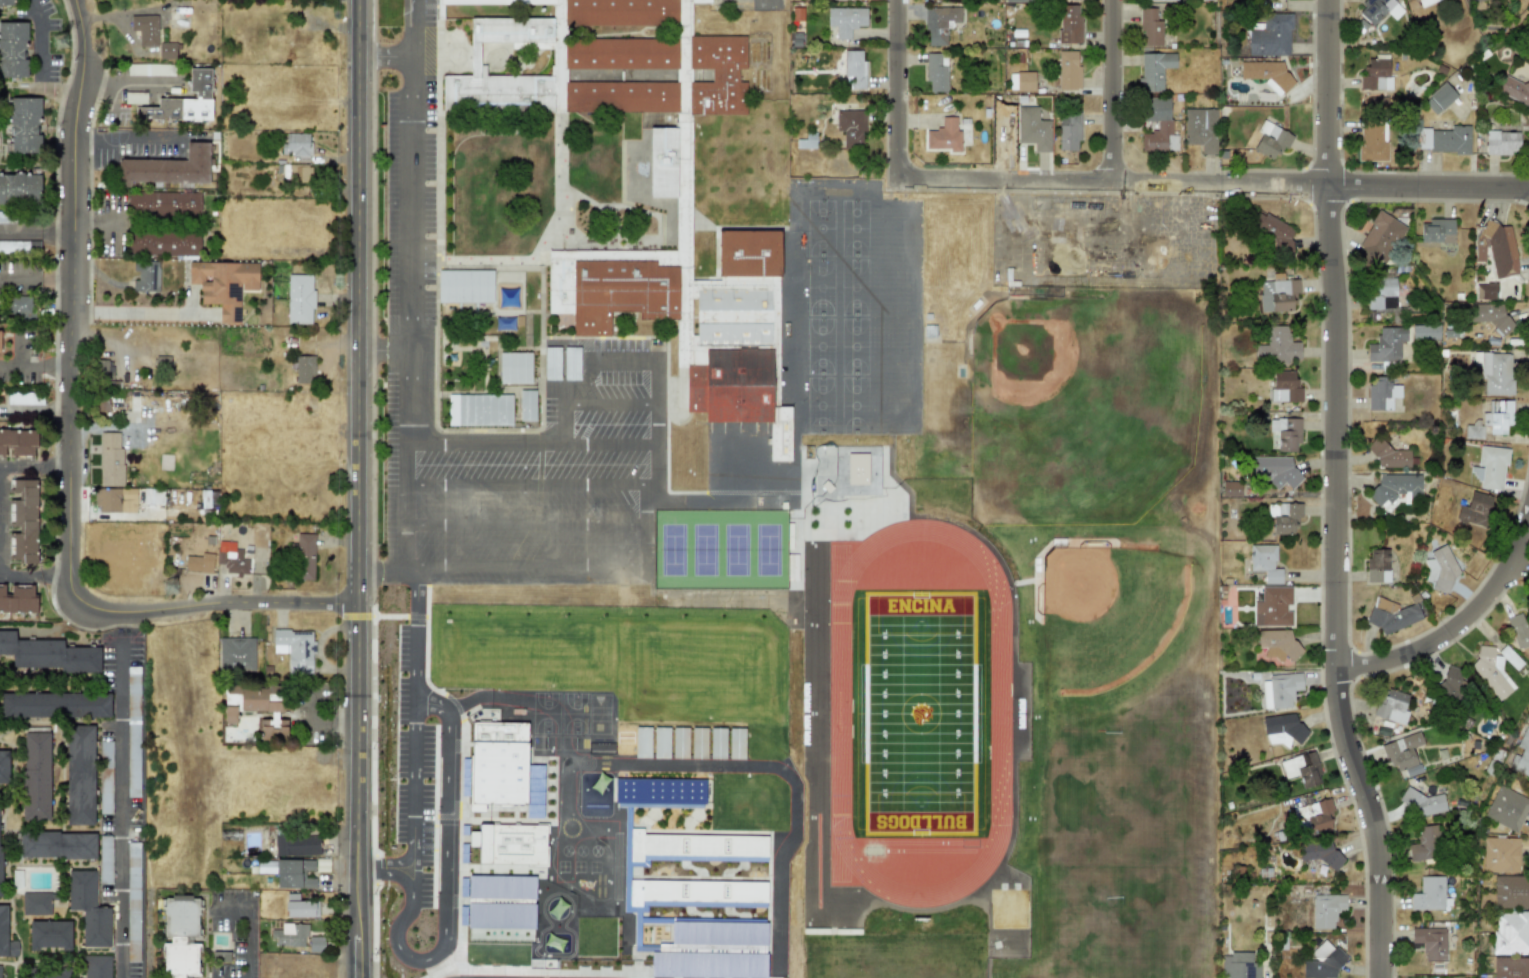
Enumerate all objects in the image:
road: (772, 0)
building: (1154, 0)
building: (1471, 0)
building: (1473, 0)
building: (1018, 1)
building: (6, 2)
building: (1424, 2)
building: (1375, 9)
building: (846, 20)
building: (940, 23)
building: (1147, 23)
building: (1070, 24)
building: (145, 30)
building: (1270, 34)
power tower: (60, 41)
building: (13, 50)
building: (166, 51)
road: (382, 54)
road: (40, 61)
building: (150, 69)
building: (854, 69)
building: (1068, 70)
building: (1154, 70)
building: (937, 74)
building: (1268, 74)
building: (1376, 74)
building: (1025, 81)
road: (898, 87)
building: (1515, 89)
road: (1113, 91)
building: (135, 98)
building: (1439, 98)
building: (184, 102)
building: (24, 124)
building: (850, 126)
building: (1158, 126)
building: (1033, 129)
building: (1201, 129)
building: (1068, 132)
building: (944, 136)
road: (133, 137)
building: (1445, 139)
building: (1271, 140)
building: (1372, 142)
building: (1502, 142)
building: (296, 145)
building: (169, 167)
building: (683, 179)
road: (1214, 183)
building: (20, 188)
building: (164, 204)
building: (1437, 231)
road: (36, 232)
building: (1278, 235)
building: (1380, 238)
building: (163, 243)
building: (13, 246)
building: (1497, 249)
building: (146, 277)
road: (36, 278)
road: (407, 282)
building: (223, 285)
building: (465, 286)
building: (1381, 293)
building: (1278, 295)
building: (299, 299)
building: (18, 305)
road: (132, 313)
building: (1425, 332)
building: (0, 344)
building: (1278, 346)
road: (382, 351)
building: (551, 363)
road: (35, 367)
building: (515, 367)
building: (305, 369)
building: (571, 371)
building: (1495, 372)
road: (584, 381)
building: (1284, 388)
building: (24, 398)
road: (656, 399)
road: (613, 402)
building: (526, 405)
building: (479, 410)
building: (1490, 420)
road: (563, 421)
road: (103, 430)
building: (1284, 434)
road: (70, 442)
road: (485, 442)
building: (18, 443)
road: (610, 443)
building: (110, 459)
road: (358, 466)
road: (35, 467)
building: (1492, 467)
building: (1274, 471)
road: (531, 483)
road: (1337, 491)
building: (153, 500)
building: (114, 501)
road: (646, 504)
building: (1474, 512)
building: (397, 515)
building: (1284, 517)
road: (0, 520)
building: (23, 520)
road: (526, 523)
building: (303, 557)
building: (232, 560)
building: (199, 563)
road: (525, 563)
building: (1265, 563)
building: (1377, 566)
road: (382, 568)
building: (1441, 568)
road: (0, 574)
road: (35, 574)
power tower: (171, 588)
building: (18, 599)
building: (1273, 607)
building: (1392, 615)
track: (824, 617)
road: (1457, 625)
building: (1519, 629)
building: (1277, 645)
building: (294, 649)
building: (1505, 653)
building: (49, 654)
building: (236, 654)
building: (1492, 673)
building: (1451, 683)
building: (1280, 690)
building: (55, 705)
building: (1392, 706)
building: (258, 708)
road: (317, 723)
building: (1283, 730)
building: (133, 731)
road: (415, 742)
building: (634, 742)
building: (660, 742)
track: (982, 742)
building: (679, 743)
building: (698, 743)
building: (717, 743)
building: (736, 744)
building: (755, 744)
building: (1401, 750)
building: (1522, 757)
building: (4, 767)
building: (503, 768)
building: (1302, 769)
building: (36, 774)
building: (80, 775)
building: (105, 777)
building: (659, 793)
building: (1424, 804)
road: (119, 809)
building: (1506, 809)
building: (1314, 817)
road: (332, 828)
track: (825, 837)
building: (570, 838)
building: (586, 838)
building: (57, 845)
building: (297, 845)
building: (512, 845)
building: (1425, 845)
building: (1317, 853)
building: (1500, 854)
building: (787, 855)
building: (105, 859)
building: (0, 872)
building: (294, 874)
road: (444, 879)
building: (787, 888)
building: (1511, 892)
building: (657, 893)
building: (1430, 894)
building: (133, 902)
building: (500, 902)
building: (35, 903)
building: (300, 907)
building: (88, 908)
building: (558, 910)
building: (1326, 910)
building: (786, 928)
road: (247, 930)
building: (1511, 933)
building: (50, 935)
building: (290, 935)
building: (6, 936)
building: (181, 937)
building: (316, 942)
building: (1430, 942)
road: (359, 955)
building: (785, 963)
building: (1323, 963)
building: (96, 966)
building: (1238, 966)
building: (1511, 968)
building: (0, 971)
building: (47, 975)

